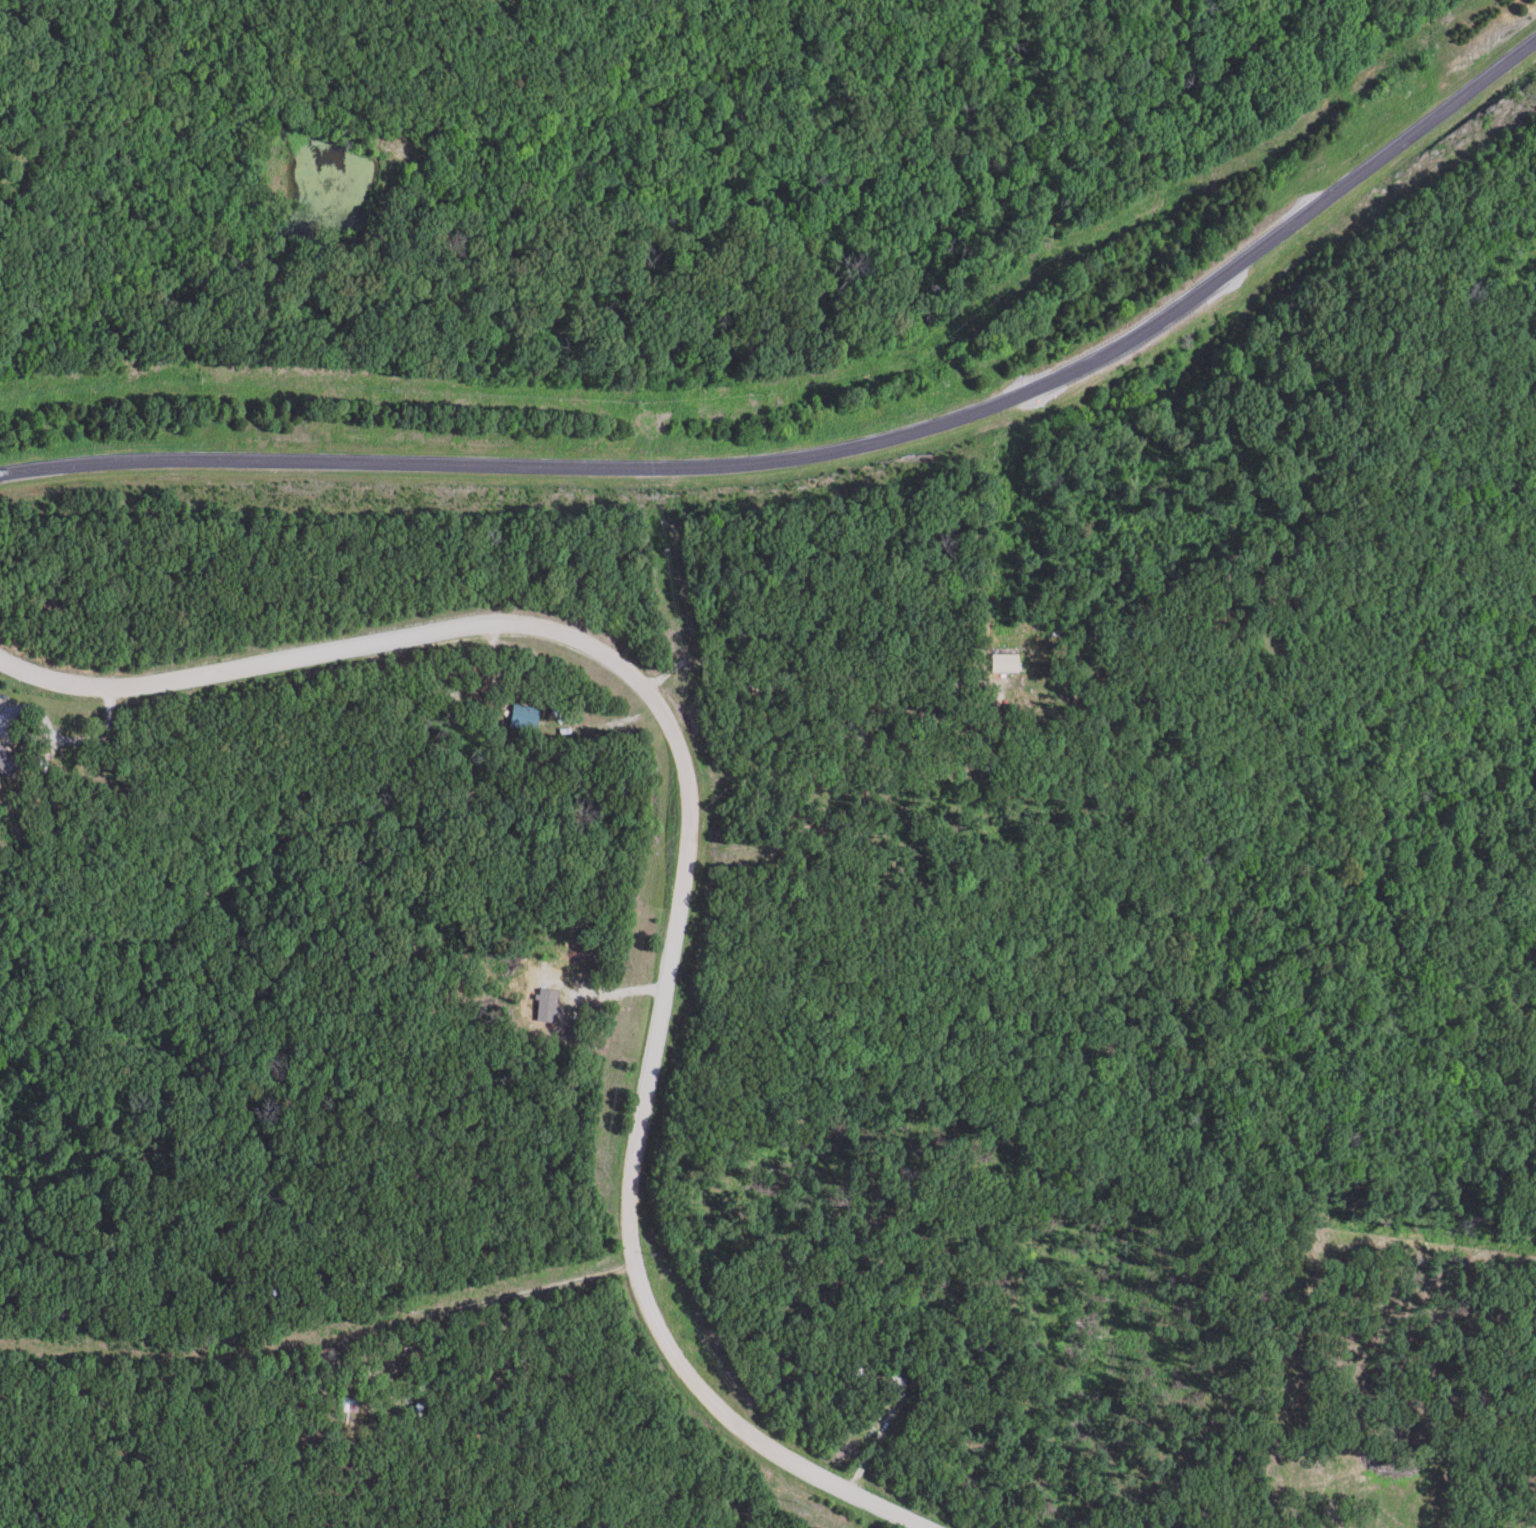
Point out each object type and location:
road: (826, 457)
road: (676, 589)
road: (688, 842)
road: (876, 1440)

